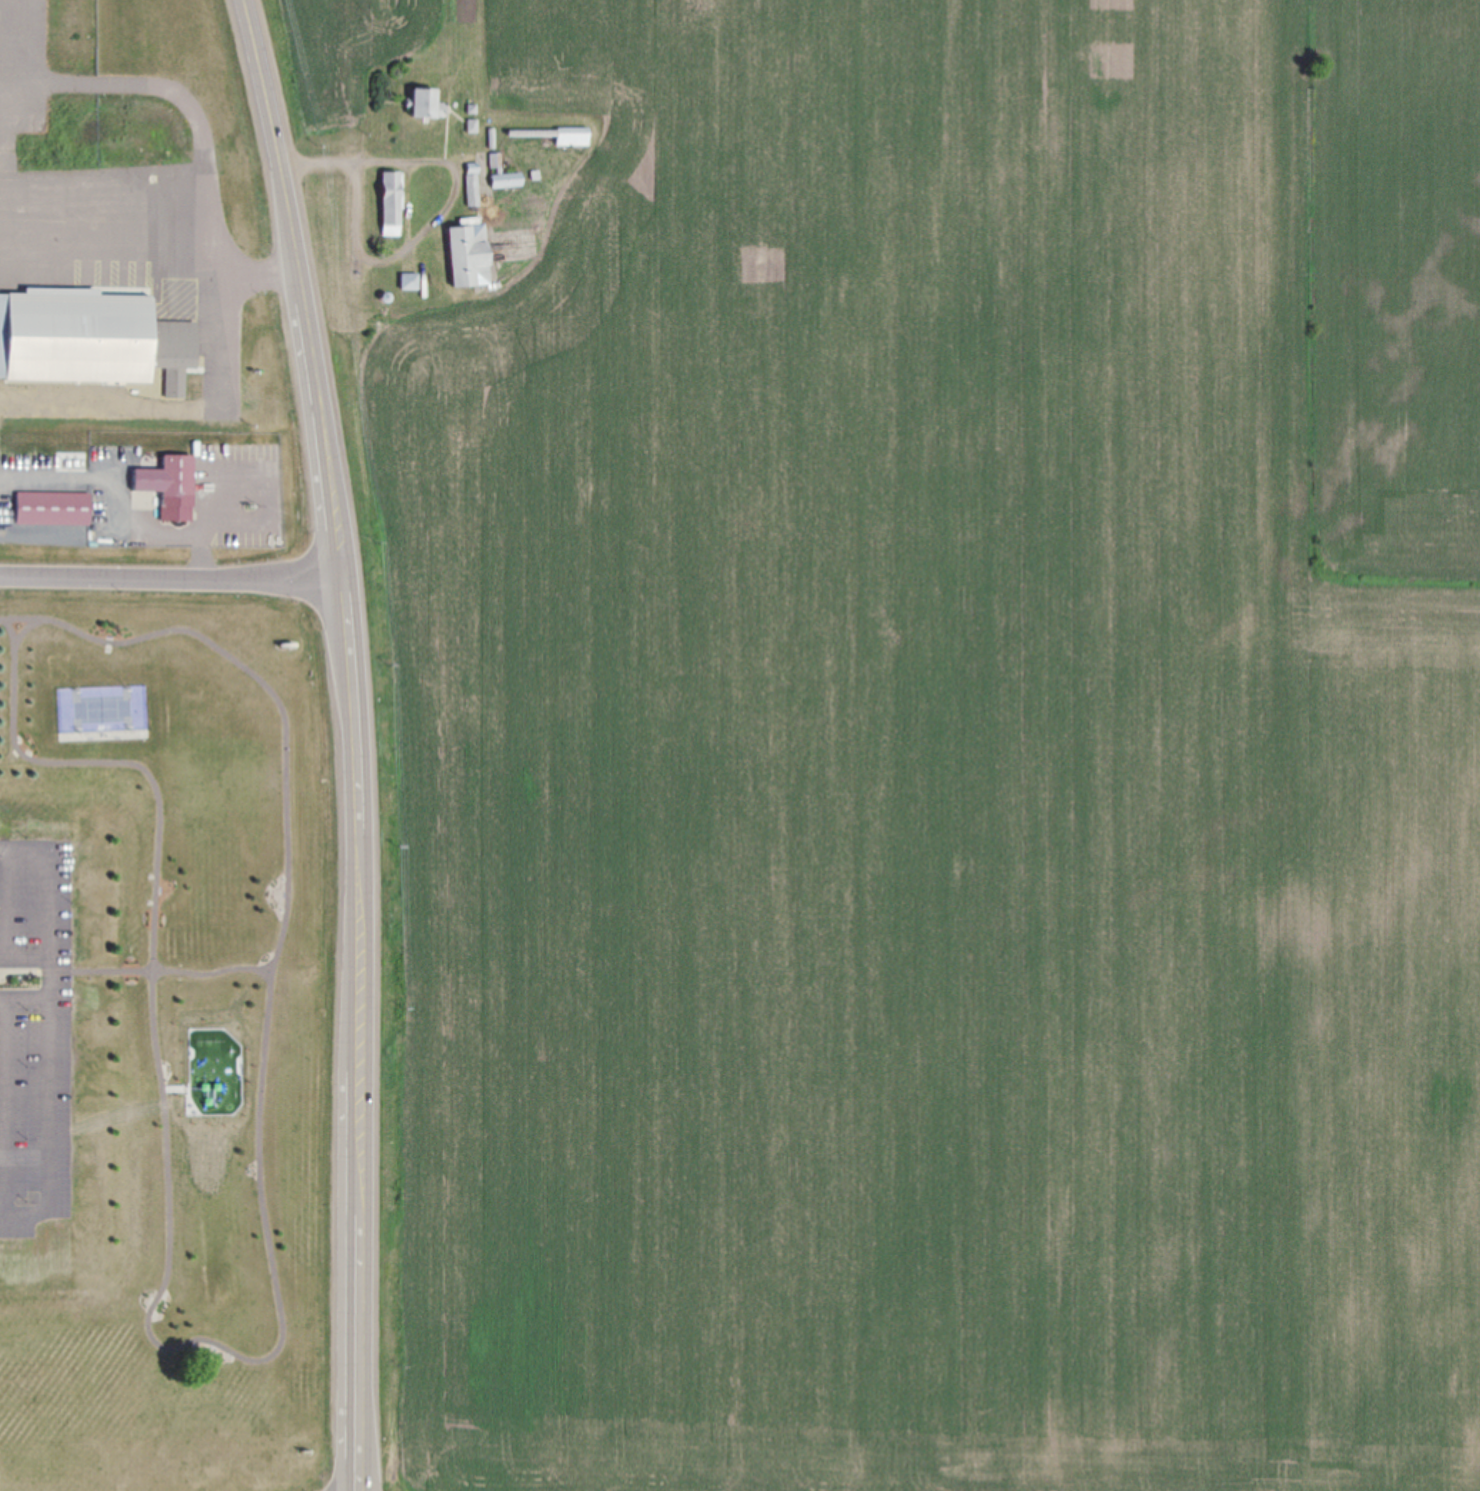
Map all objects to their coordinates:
building: (425, 103)
building: (572, 135)
building: (493, 158)
building: (507, 179)
building: (472, 184)
road: (445, 200)
building: (391, 202)
building: (469, 254)
building: (408, 281)
building: (90, 337)
building: (170, 484)
building: (52, 507)
road: (172, 574)
road: (24, 612)
road: (359, 740)
road: (7, 920)
road: (161, 964)
road: (25, 996)
road: (50, 1026)
road: (8, 1104)
road: (4, 1171)
road: (241, 1350)

